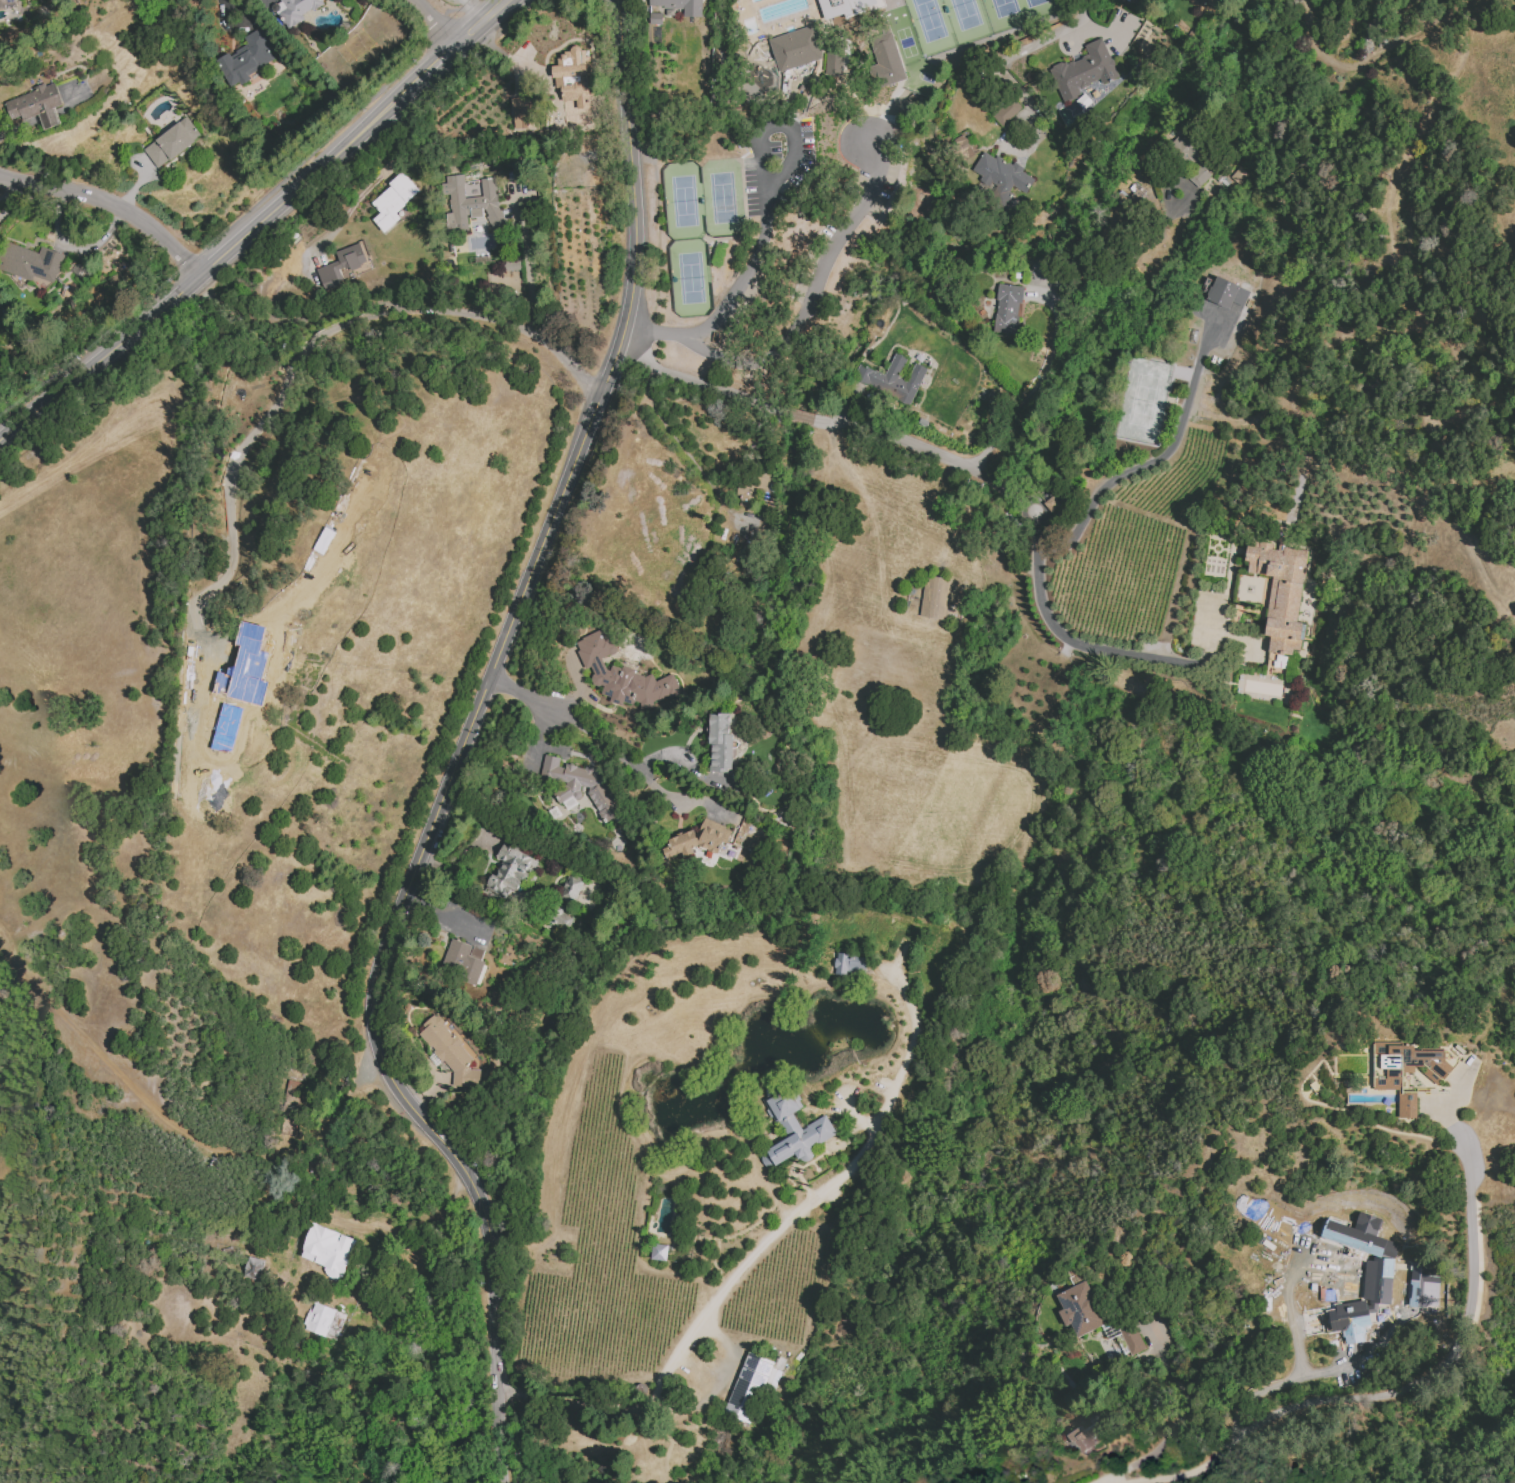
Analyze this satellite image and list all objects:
building: (1201, 1)
building: (7, 4)
building: (682, 5)
park: (1041, 7)
building: (844, 8)
building: (295, 10)
building: (668, 11)
park: (1005, 13)
park: (967, 19)
road: (440, 20)
park: (930, 25)
park: (906, 43)
building: (797, 48)
road: (1026, 48)
building: (571, 52)
building: (246, 58)
building: (885, 58)
building: (834, 59)
building: (1083, 70)
park: (920, 78)
building: (36, 105)
building: (1006, 111)
building: (522, 112)
road: (887, 119)
building: (570, 123)
building: (172, 142)
building: (967, 145)
road: (1014, 153)
building: (1209, 165)
parking lot: (778, 167)
building: (1003, 175)
building: (717, 187)
road: (9, 188)
park: (723, 198)
building: (393, 200)
building: (472, 201)
park: (684, 202)
road: (112, 204)
road: (242, 215)
road: (259, 226)
road: (1102, 229)
road: (274, 244)
building: (30, 262)
building: (341, 264)
building: (513, 264)
road: (526, 267)
road: (750, 273)
park: (691, 279)
building: (1227, 293)
road: (810, 295)
building: (1010, 311)
road: (470, 314)
road: (311, 316)
road: (1050, 352)
road: (565, 360)
building: (896, 380)
road: (696, 384)
park: (1143, 400)
road: (798, 416)
road: (262, 423)
road: (986, 434)
road: (1154, 461)
building: (754, 489)
road: (873, 498)
building: (1050, 503)
road: (1038, 530)
building: (1225, 535)
building: (1113, 550)
building: (1239, 590)
road: (522, 593)
building: (936, 597)
building: (1293, 604)
building: (1289, 641)
building: (628, 683)
building: (226, 691)
road: (522, 696)
road: (602, 739)
building: (722, 742)
building: (602, 792)
building: (700, 842)
building: (513, 871)
building: (573, 891)
building: (558, 915)
building: (848, 964)
building: (465, 965)
building: (451, 1055)
building: (1407, 1072)
building: (291, 1090)
building: (1386, 1095)
road: (1447, 1113)
road: (852, 1118)
building: (794, 1130)
road: (415, 1223)
road: (756, 1249)
building: (330, 1251)
building: (658, 1252)
building: (1367, 1254)
building: (255, 1270)
building: (1423, 1285)
building: (1081, 1309)
road: (490, 1315)
building: (1353, 1317)
building: (327, 1325)
building: (1132, 1340)
road: (726, 1348)
road: (1299, 1368)
road: (1327, 1370)
building: (751, 1387)
road: (1392, 1388)
road: (1170, 1418)
building: (1084, 1437)
building: (584, 1460)

